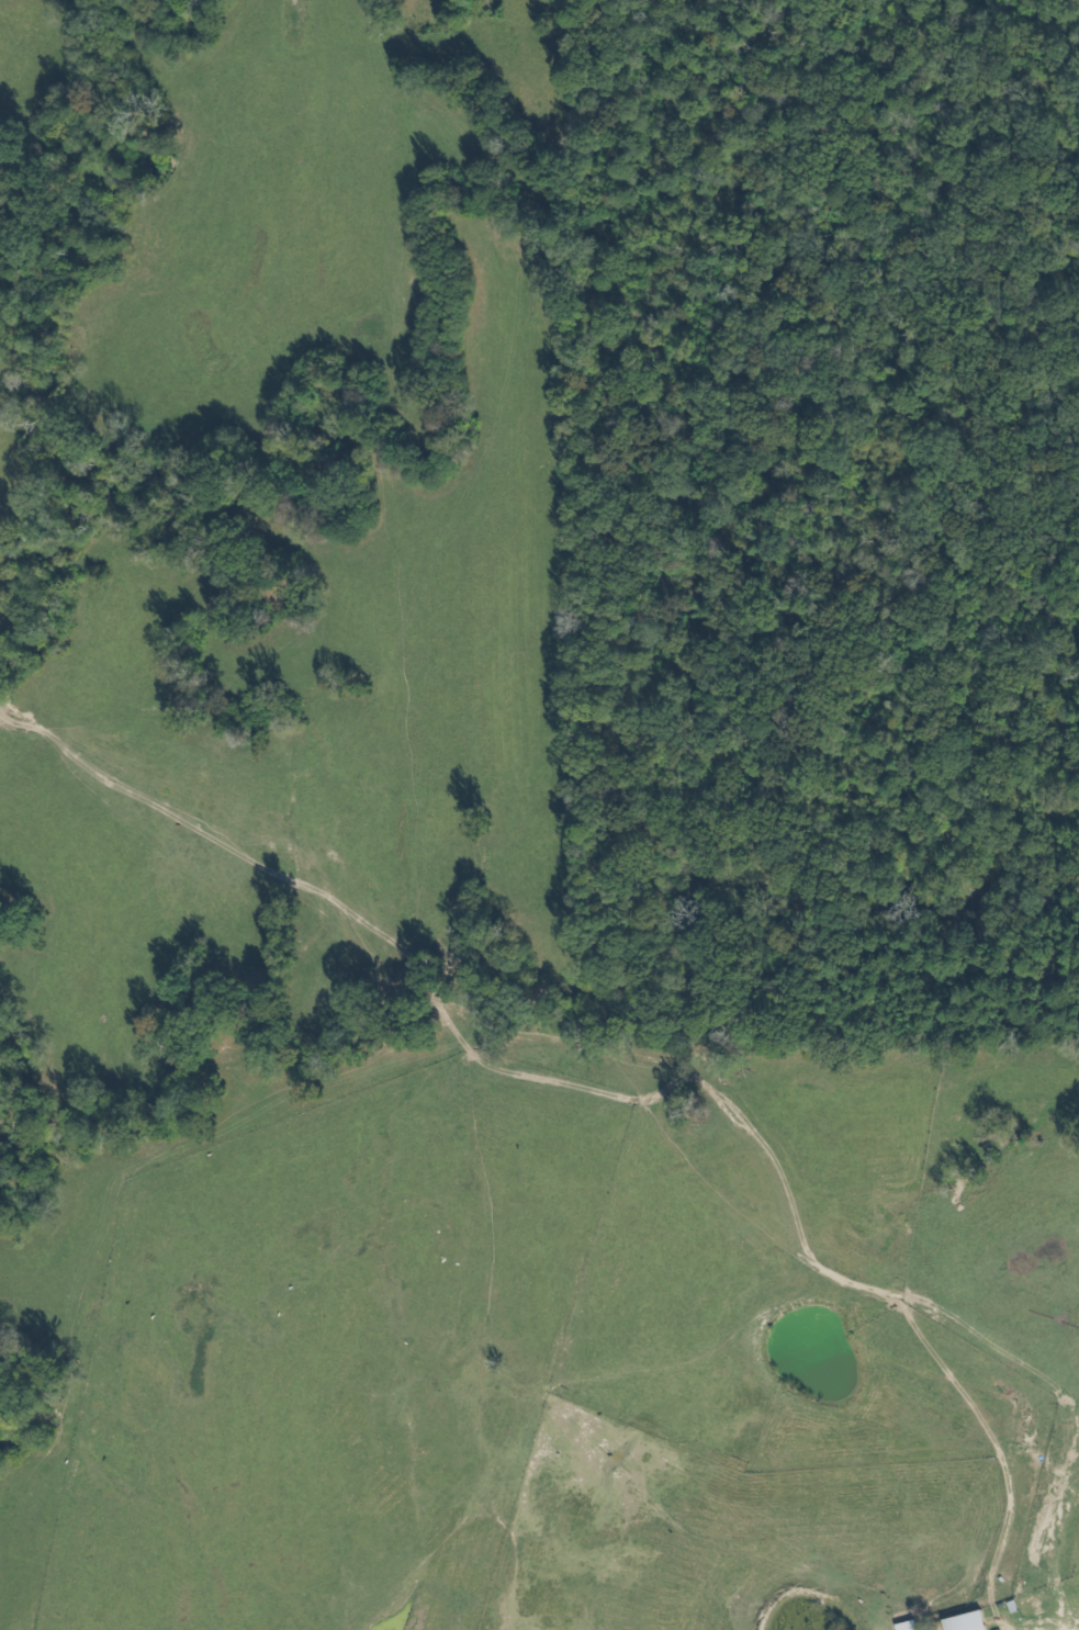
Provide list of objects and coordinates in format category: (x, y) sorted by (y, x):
building: (968, 1621)
building: (909, 1626)

